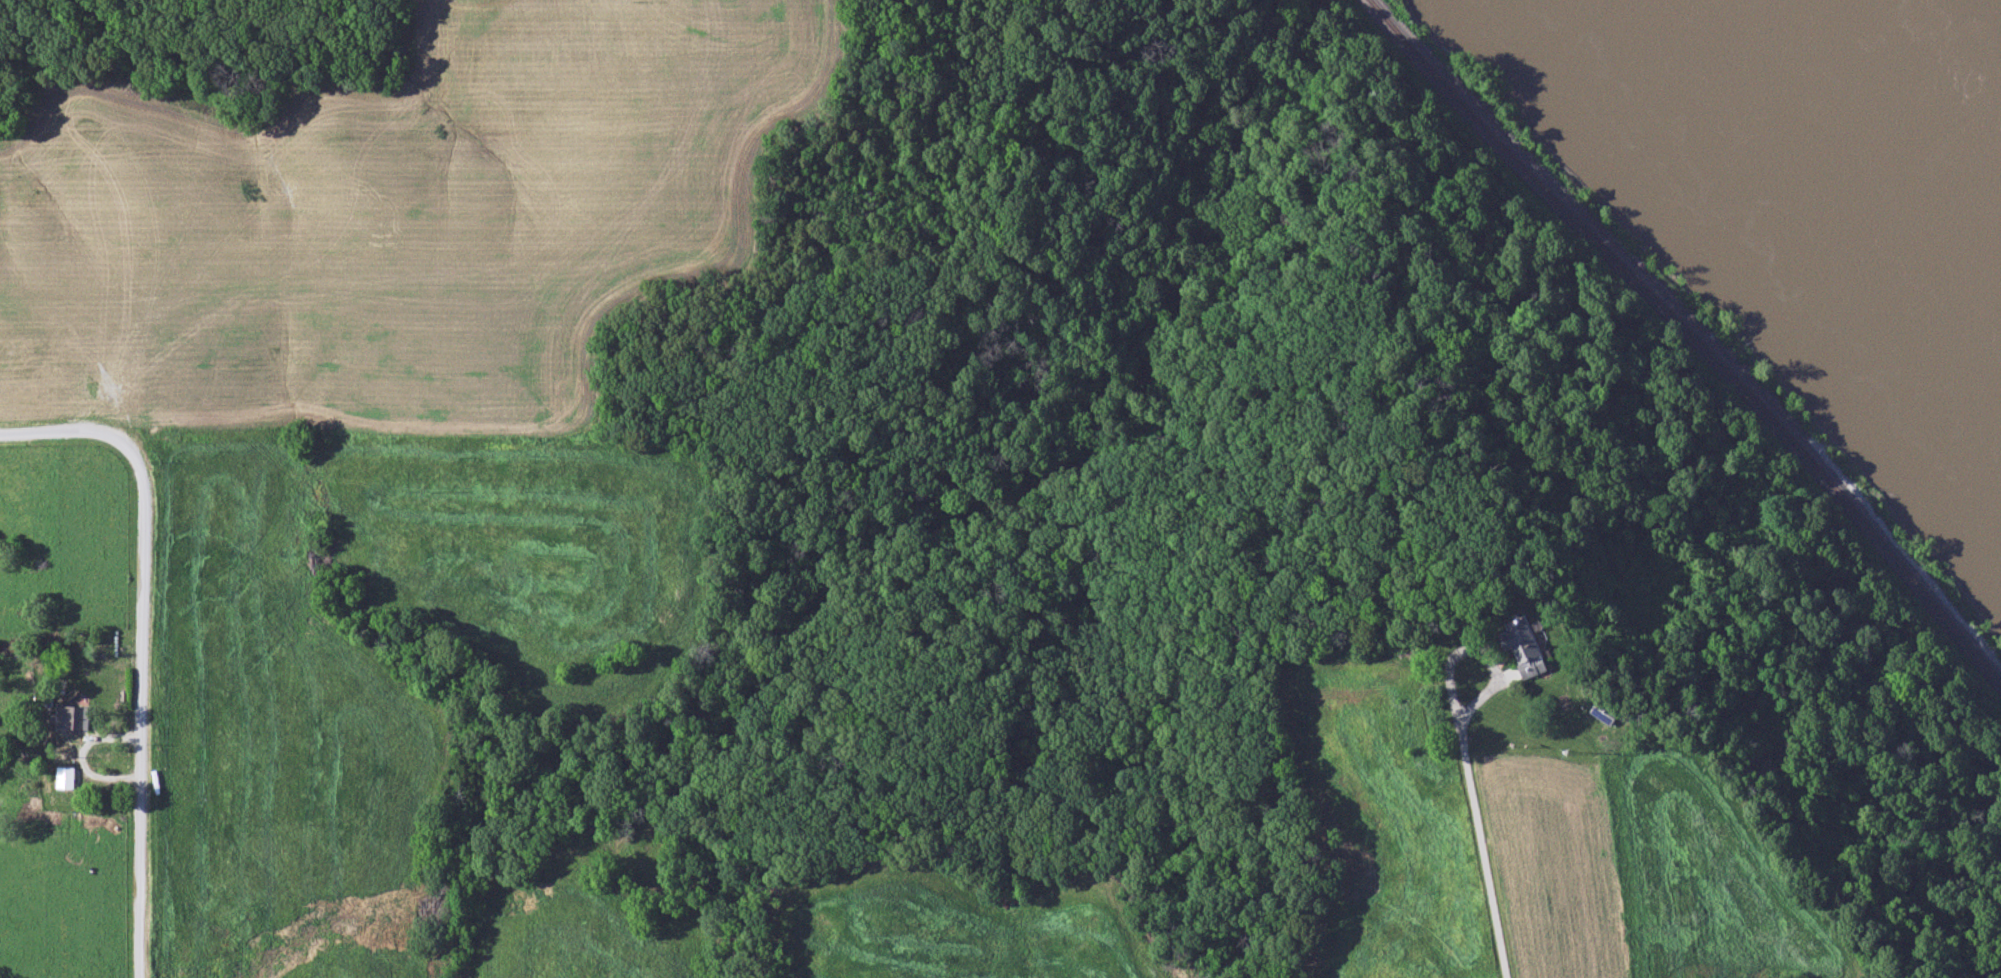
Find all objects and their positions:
river: (1881, 139)
railway: (1692, 335)
road: (61, 433)
building: (1522, 648)
road: (1479, 650)
road: (139, 708)
building: (1603, 713)
road: (1482, 851)

